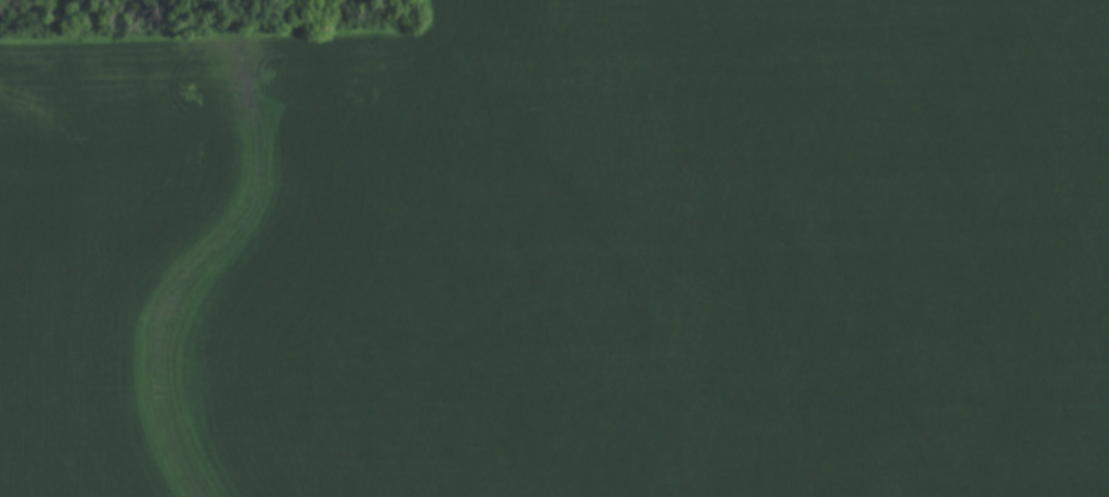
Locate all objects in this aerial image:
crop: (562, 254)

